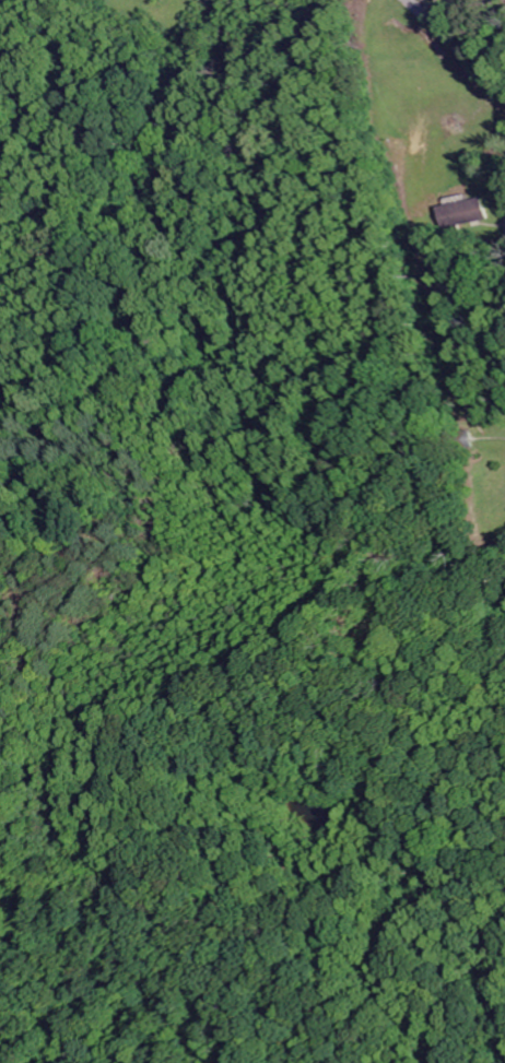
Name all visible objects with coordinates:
road: (455, 51)
building: (467, 213)
road: (438, 277)

